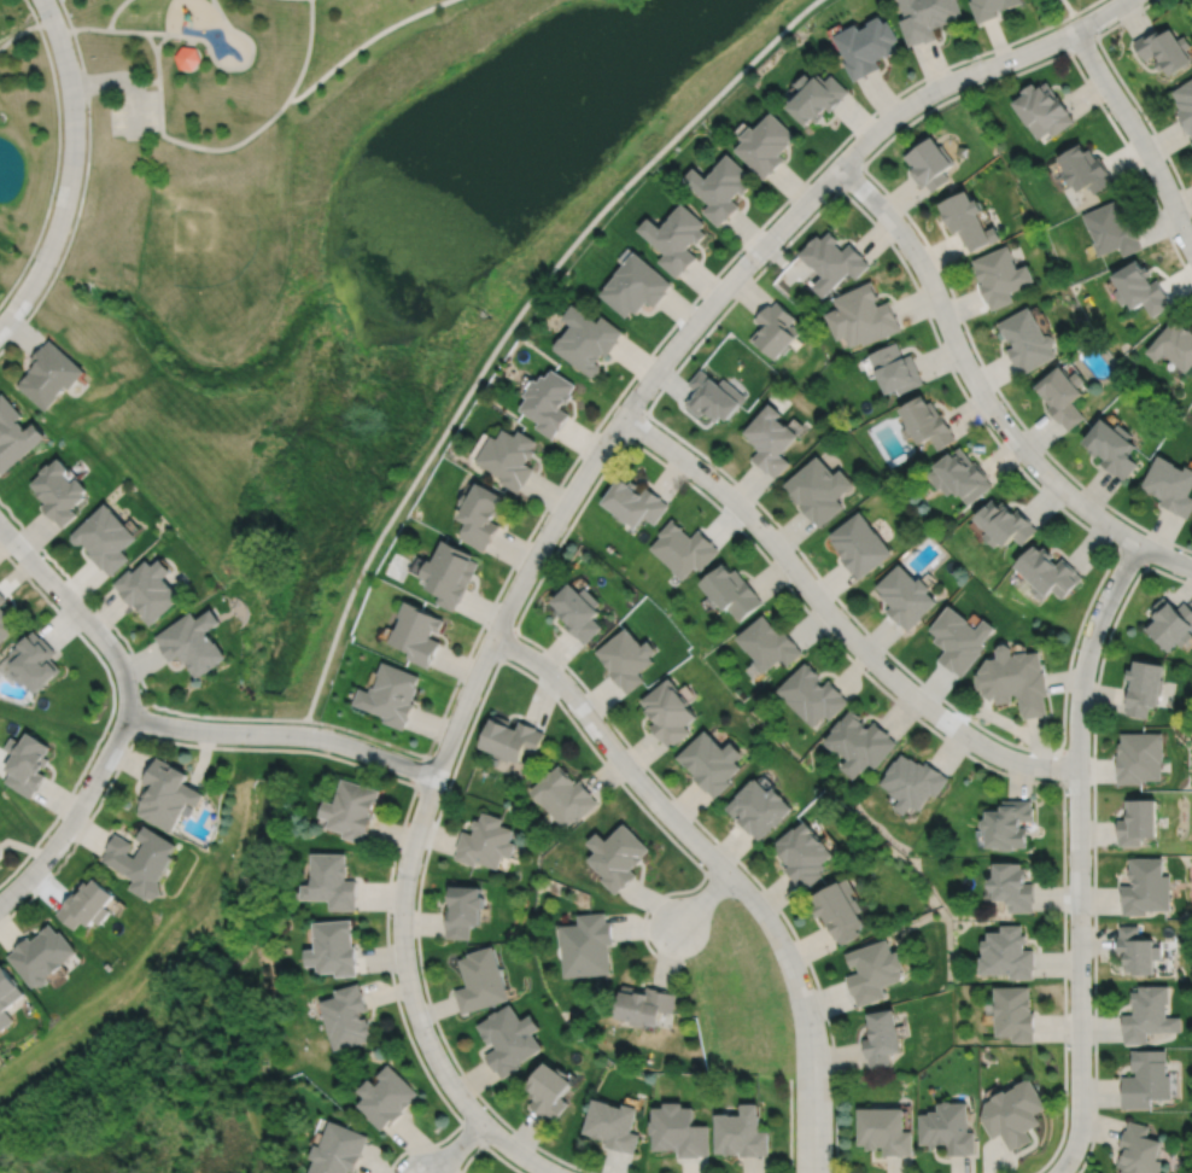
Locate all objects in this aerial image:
building: (991, 7)
road: (1077, 11)
road: (31, 12)
park: (1057, 12)
road: (113, 13)
building: (925, 18)
road: (78, 28)
street lamp: (1100, 30)
road: (154, 33)
road: (189, 42)
road: (364, 42)
road: (1082, 43)
building: (866, 47)
building: (1164, 51)
street lamp: (982, 57)
building: (187, 58)
road: (125, 81)
road: (145, 84)
road: (1129, 93)
building: (817, 99)
building: (1185, 106)
street lamp: (1106, 109)
building: (1042, 112)
parking lot: (134, 115)
road: (162, 116)
road: (1138, 136)
building: (765, 145)
street lamp: (864, 158)
building: (929, 165)
road: (55, 168)
road: (72, 169)
building: (1083, 171)
road: (867, 174)
road: (849, 177)
road: (84, 183)
building: (720, 187)
street lamp: (1191, 220)
building: (969, 221)
building: (1110, 229)
park: (448, 235)
building: (676, 235)
street lamp: (898, 247)
park: (162, 252)
street lamp: (741, 252)
building: (834, 258)
building: (1001, 274)
building: (635, 284)
building: (1140, 285)
building: (865, 314)
road: (678, 317)
road: (512, 325)
building: (776, 328)
building: (586, 338)
building: (1028, 338)
building: (1174, 343)
building: (895, 367)
street lamp: (957, 372)
building: (52, 373)
building: (1062, 393)
building: (714, 395)
road: (983, 396)
building: (548, 399)
street lamp: (647, 405)
building: (928, 421)
road: (636, 424)
building: (16, 433)
building: (771, 438)
building: (1112, 445)
building: (508, 456)
road: (659, 460)
street lamp: (703, 460)
road: (590, 462)
building: (963, 474)
building: (1170, 484)
building: (819, 489)
building: (62, 491)
building: (635, 502)
building: (480, 514)
building: (1006, 523)
street lamp: (539, 524)
building: (106, 537)
street lamp: (1111, 539)
building: (861, 544)
building: (684, 548)
road: (1116, 548)
road: (1133, 556)
building: (449, 572)
building: (1047, 572)
street lamp: (790, 583)
building: (148, 588)
building: (732, 590)
road: (83, 595)
building: (907, 595)
building: (579, 611)
road: (80, 613)
road: (834, 618)
building: (5, 619)
building: (1170, 623)
building: (416, 632)
building: (960, 638)
building: (192, 641)
building: (769, 643)
road: (506, 644)
street lamp: (1077, 647)
street lamp: (507, 658)
building: (627, 658)
street lamp: (892, 661)
building: (36, 663)
street lamp: (565, 670)
building: (1013, 679)
building: (1144, 687)
building: (390, 695)
building: (813, 695)
road: (109, 711)
building: (670, 712)
road: (287, 718)
road: (169, 724)
street lamp: (320, 724)
road: (469, 725)
building: (510, 739)
building: (861, 742)
street lamp: (972, 752)
building: (1139, 757)
building: (712, 761)
building: (28, 763)
road: (1063, 764)
road: (381, 772)
street lamp: (648, 774)
building: (915, 782)
street lamp: (444, 786)
street lamp: (1065, 792)
building: (168, 795)
building: (563, 796)
building: (760, 809)
building: (351, 810)
building: (1138, 822)
building: (1007, 825)
road: (1093, 841)
building: (485, 842)
building: (1, 853)
road: (1077, 853)
building: (805, 856)
building: (618, 857)
building: (144, 858)
road: (724, 866)
building: (332, 879)
building: (1011, 887)
building: (1145, 887)
road: (703, 898)
street lamp: (736, 900)
building: (88, 904)
building: (462, 912)
building: (841, 912)
street lamp: (648, 915)
street lamp: (391, 918)
street lamp: (1091, 920)
building: (586, 944)
building: (334, 945)
building: (1137, 952)
building: (42, 953)
building: (1006, 955)
building: (875, 970)
building: (480, 980)
building: (7, 991)
building: (644, 1002)
building: (1013, 1010)
building: (347, 1014)
building: (1147, 1014)
street lamp: (824, 1020)
street lamp: (436, 1032)
building: (884, 1034)
building: (507, 1038)
street lamp: (1067, 1044)
building: (1145, 1076)
building: (549, 1087)
building: (387, 1095)
building: (1013, 1110)
building: (612, 1122)
road: (789, 1125)
building: (947, 1126)
building: (678, 1128)
building: (886, 1128)
building: (741, 1131)
road: (472, 1132)
street lamp: (489, 1145)
road: (486, 1146)
road: (457, 1148)
building: (339, 1149)
building: (1138, 1150)
road: (516, 1151)
street lamp: (399, 1159)

